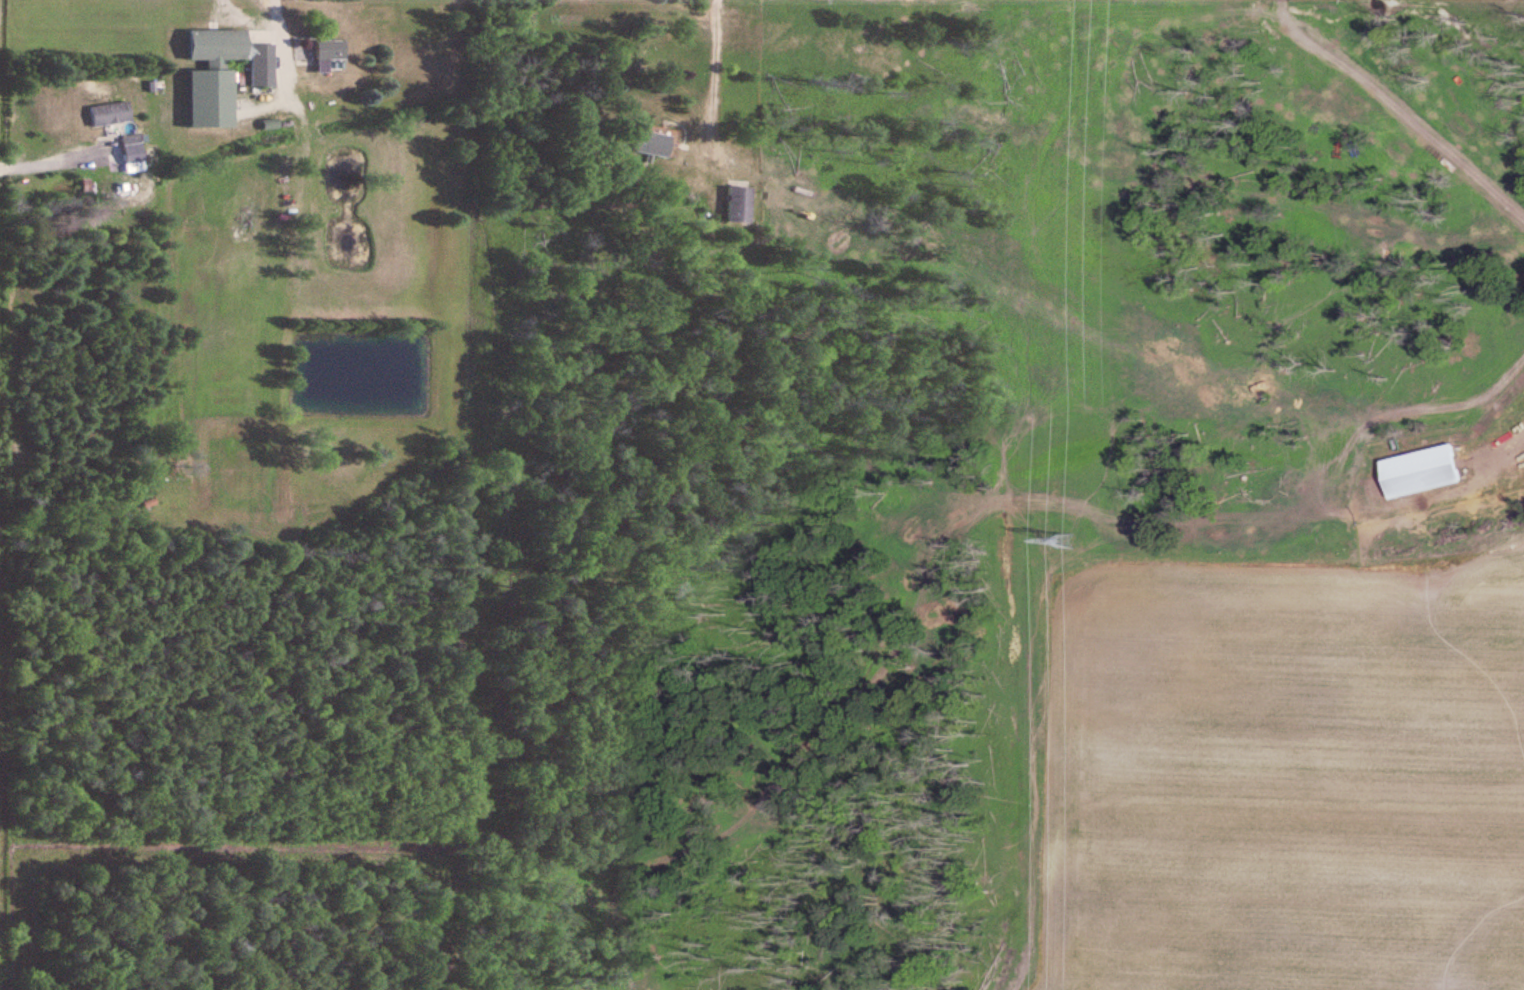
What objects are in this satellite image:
building: (328, 52)
building: (263, 64)
building: (214, 75)
building: (110, 112)
building: (660, 142)
building: (134, 156)
road: (50, 163)
building: (1428, 471)
power tower: (1065, 542)

